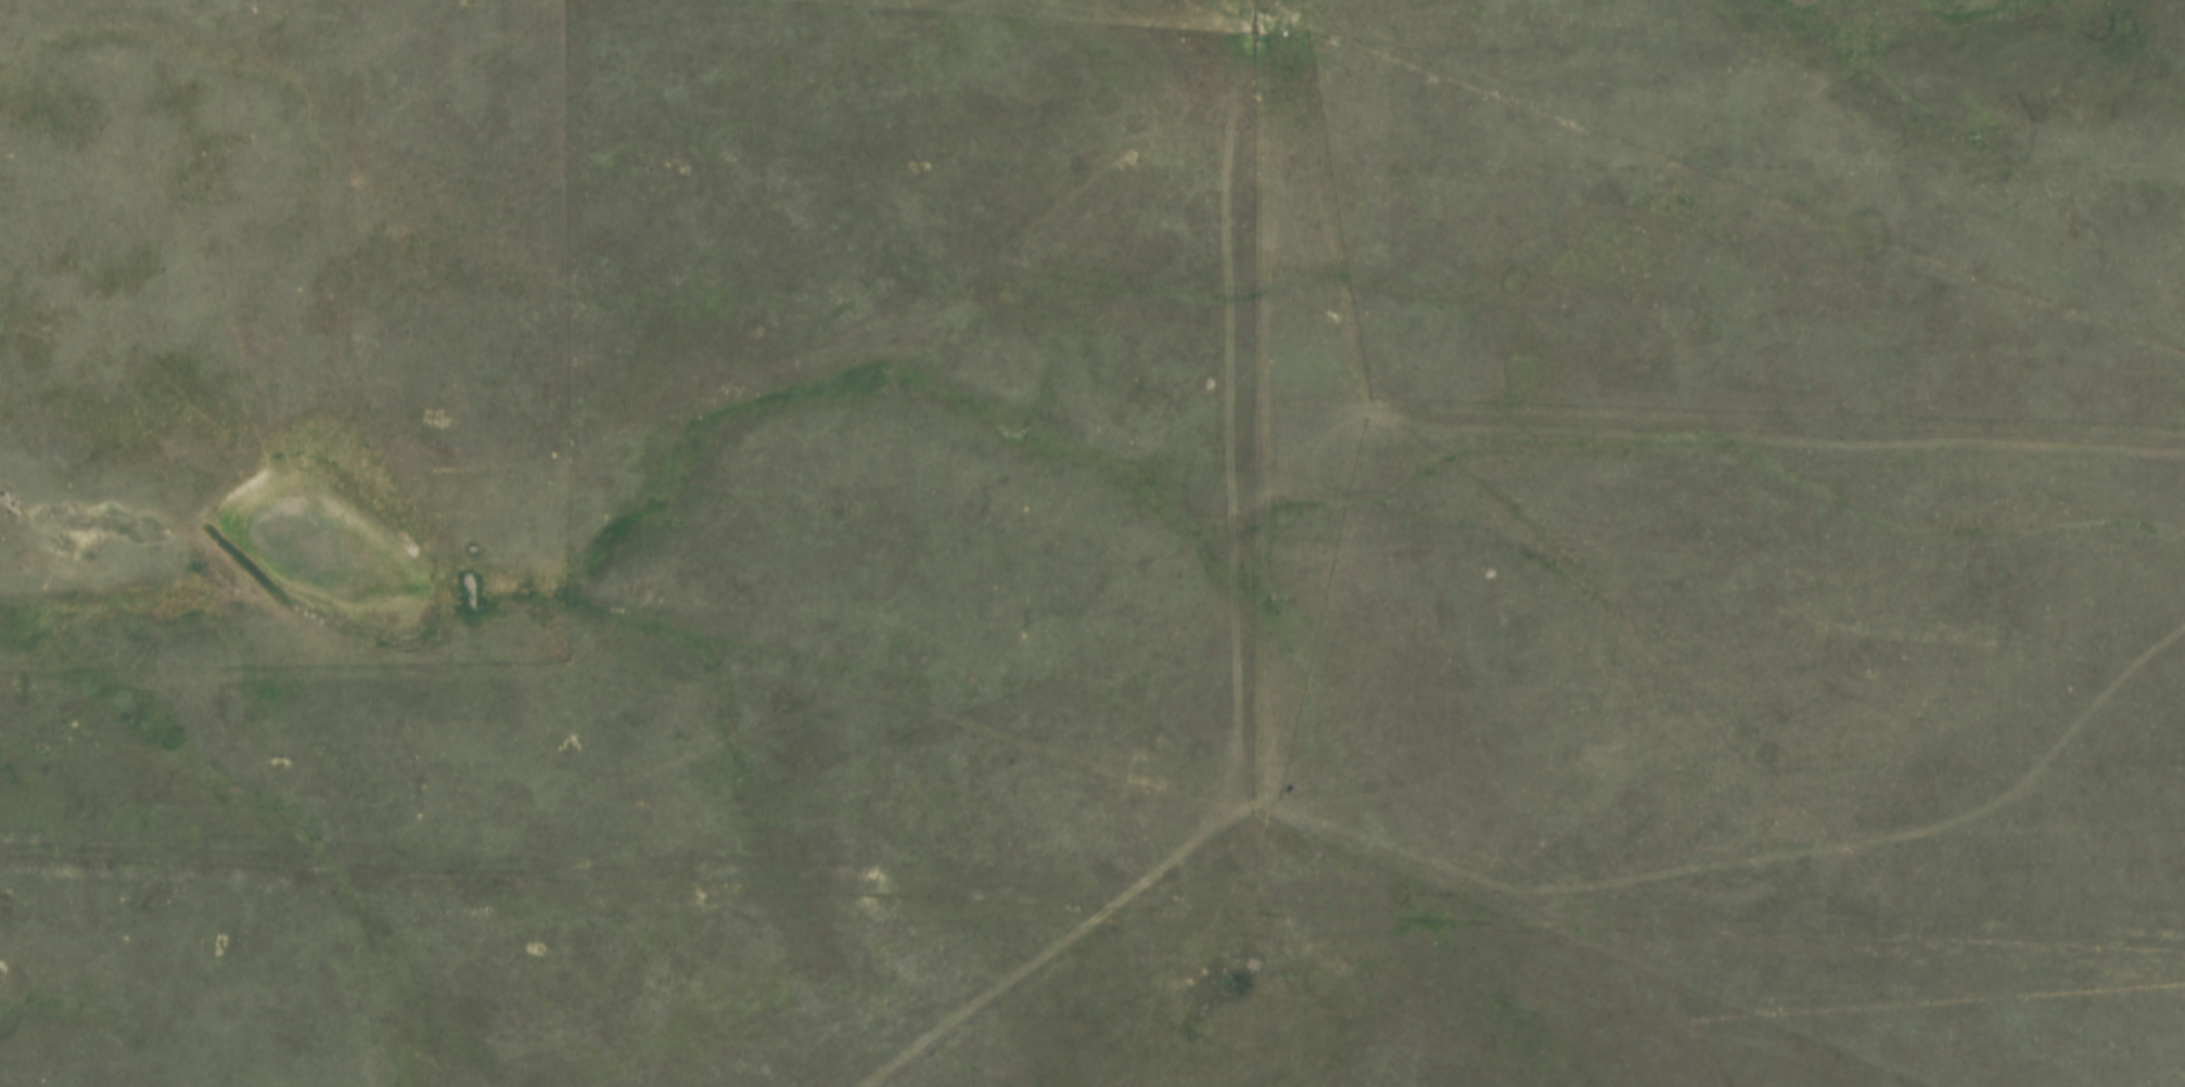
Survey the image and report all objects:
road: (823, 708)

